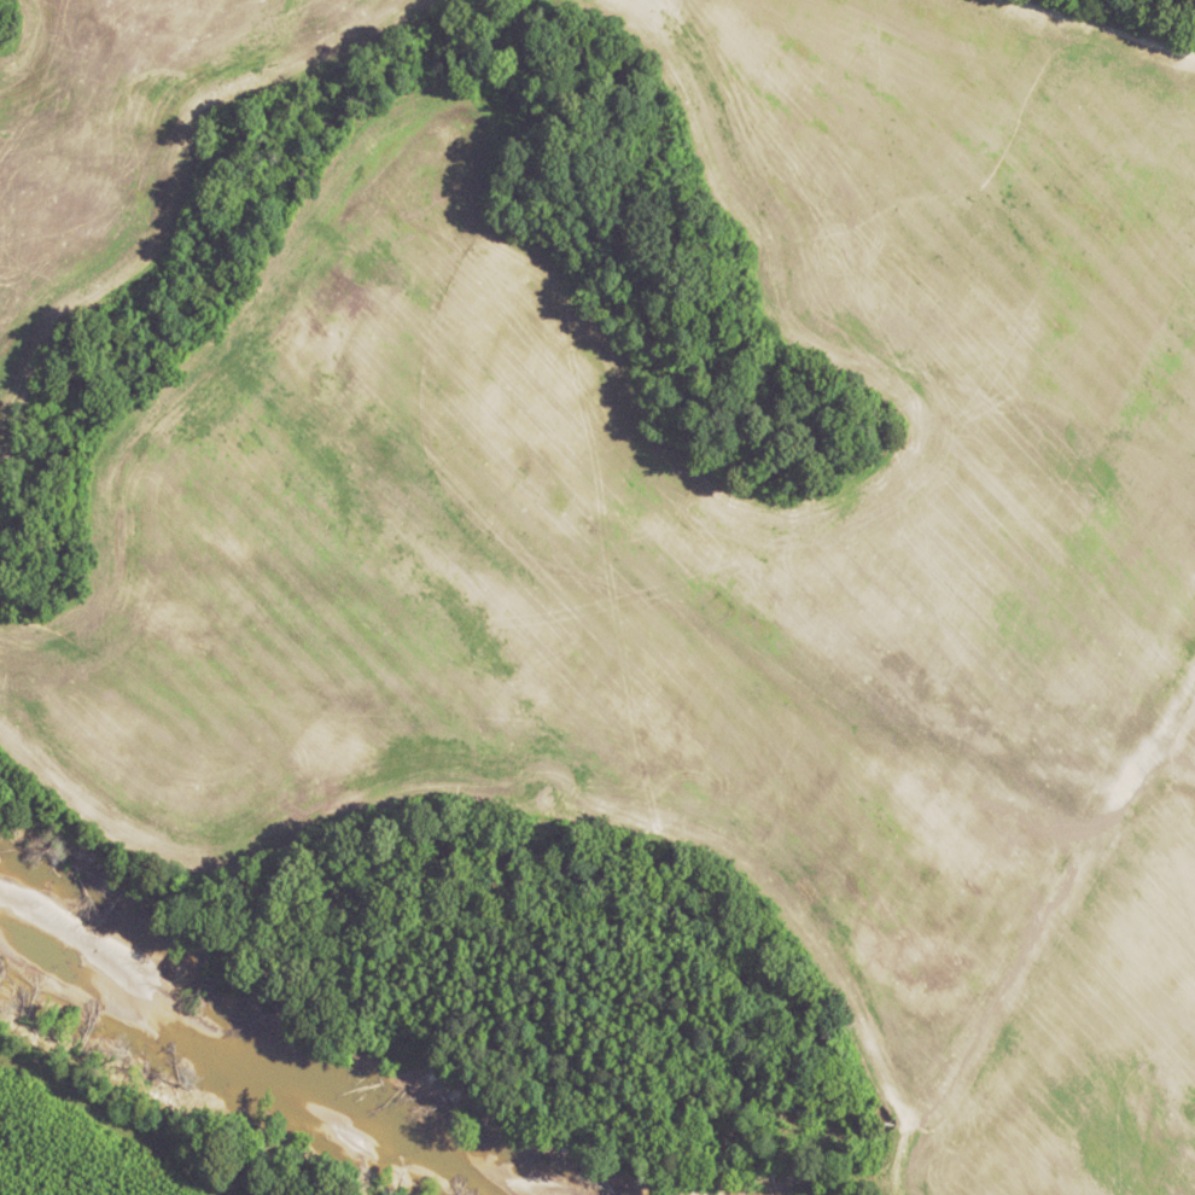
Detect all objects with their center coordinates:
river: (253, 1055)

